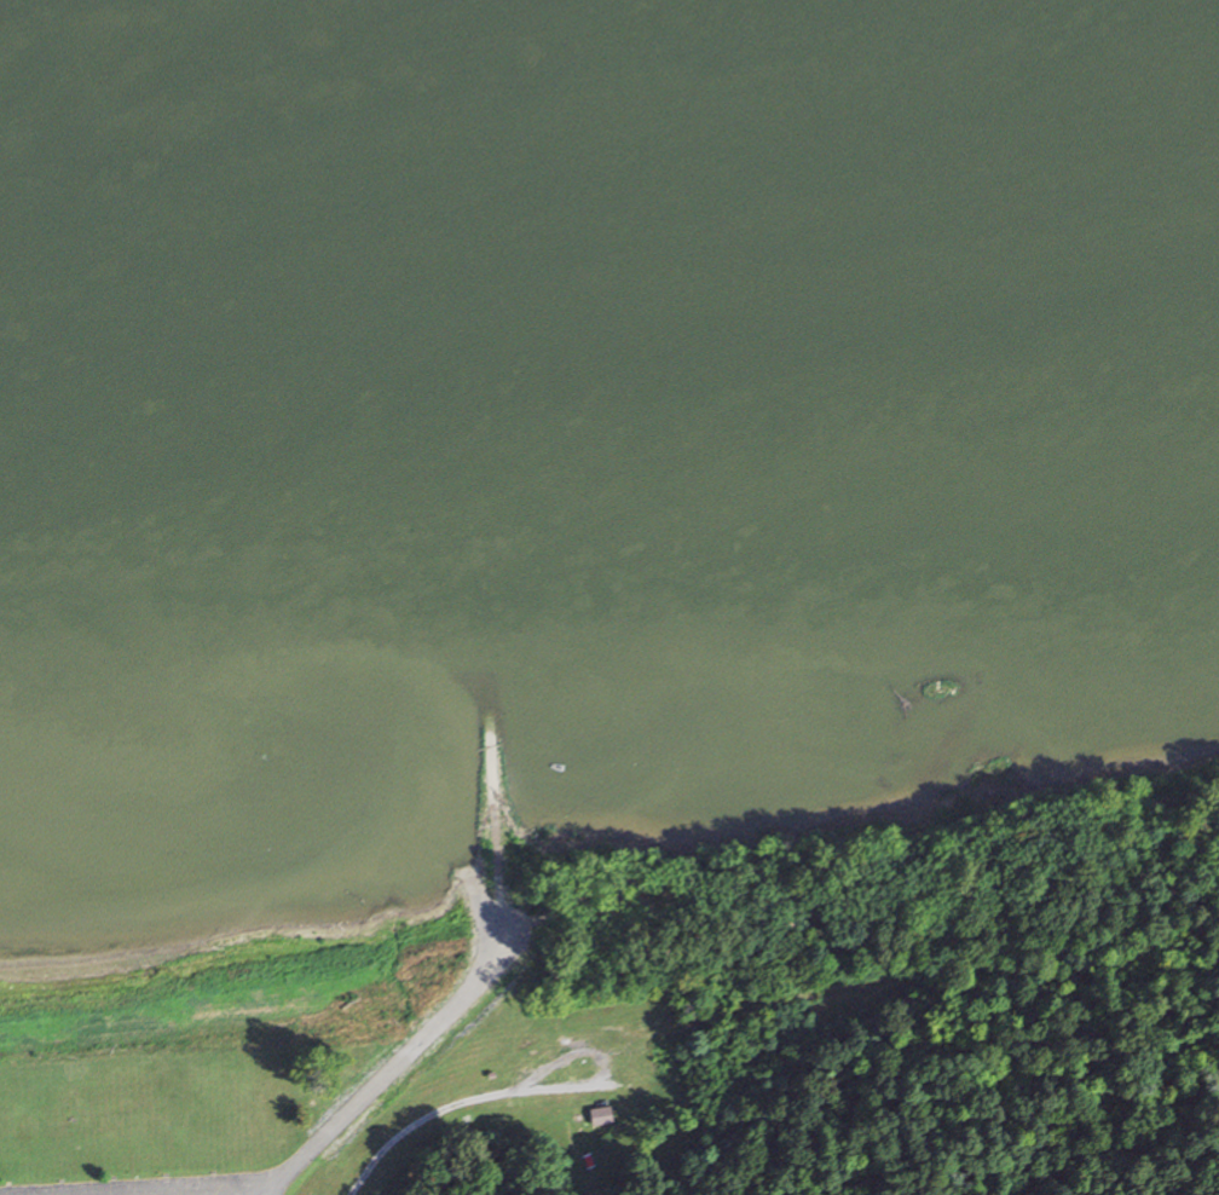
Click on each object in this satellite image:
road: (492, 799)
road: (493, 904)
road: (764, 1006)
road: (628, 1043)
park: (665, 1043)
road: (416, 1047)
road: (418, 1120)

